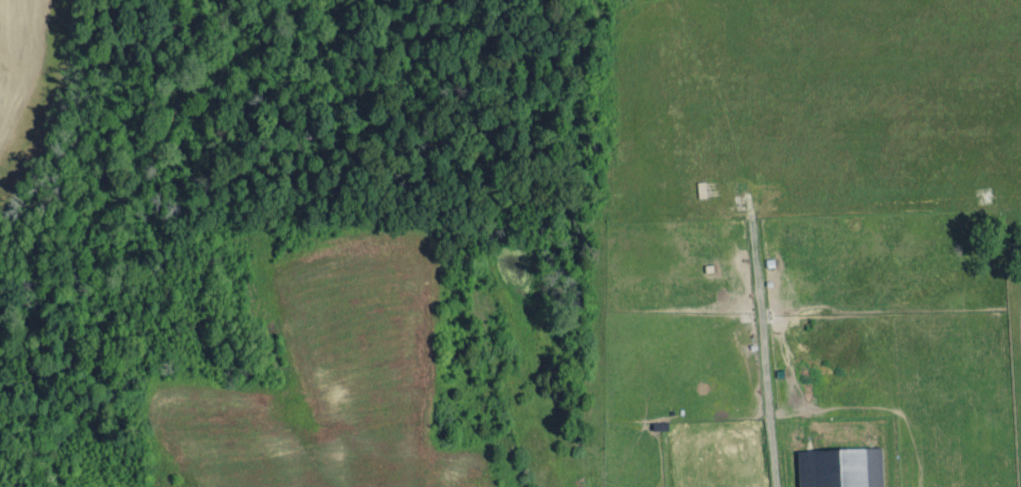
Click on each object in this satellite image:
building: (841, 466)

